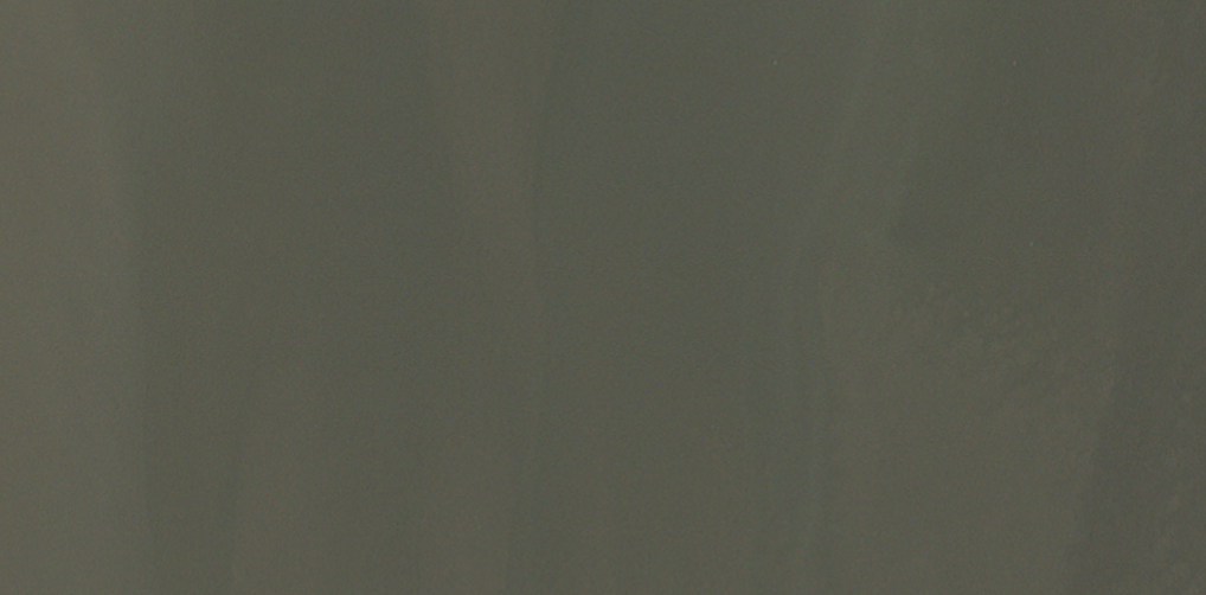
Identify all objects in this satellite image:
river: (1123, 293)

